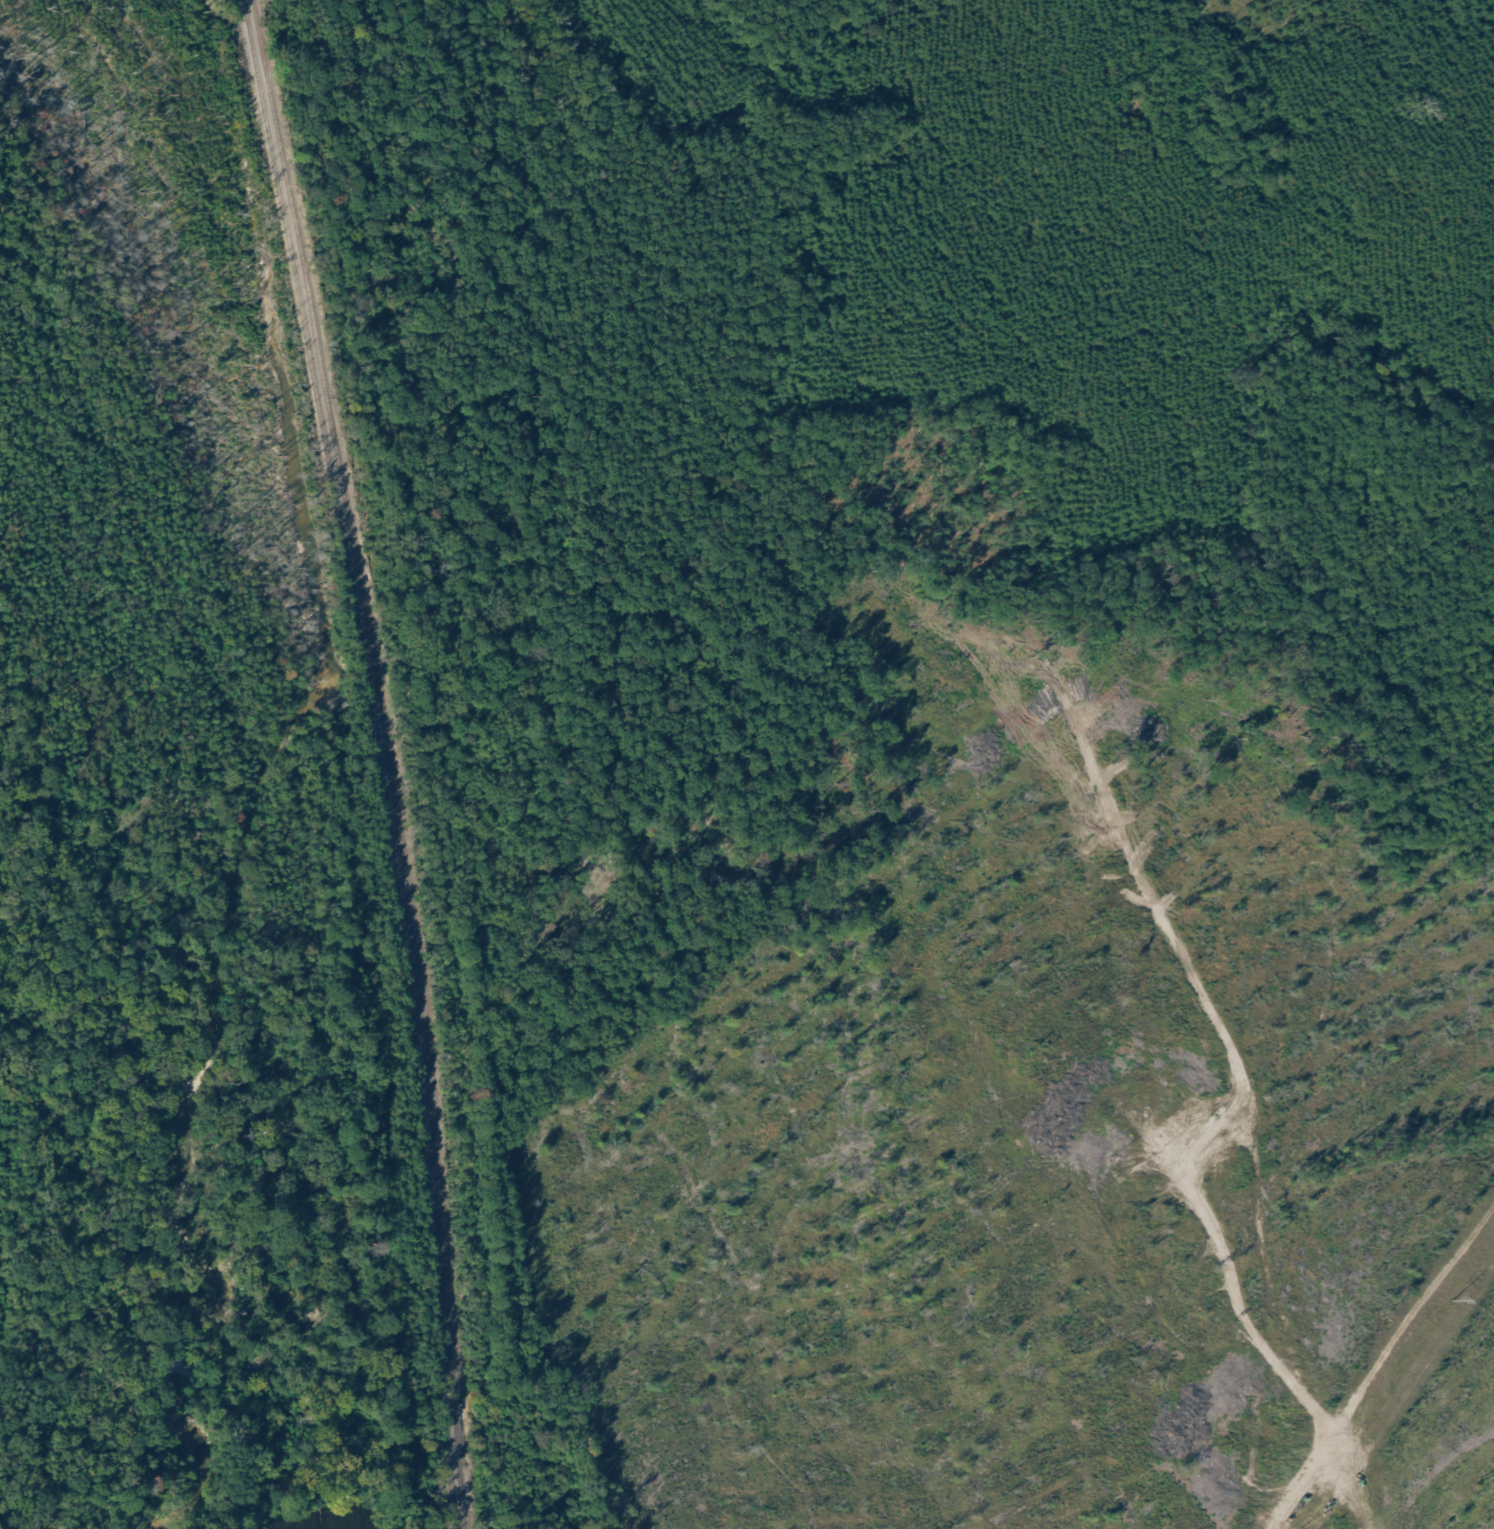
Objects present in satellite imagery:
railway: (390, 759)
railway: (376, 760)

